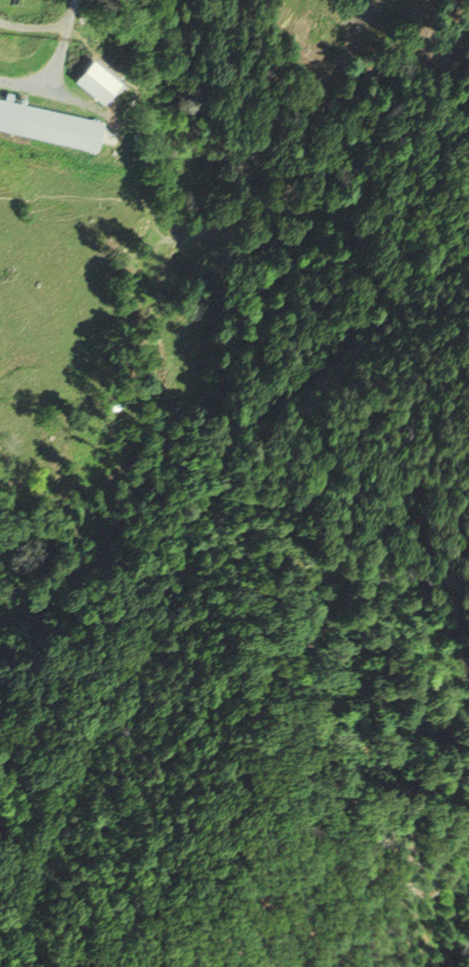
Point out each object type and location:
road: (63, 39)
road: (25, 84)
building: (50, 123)

